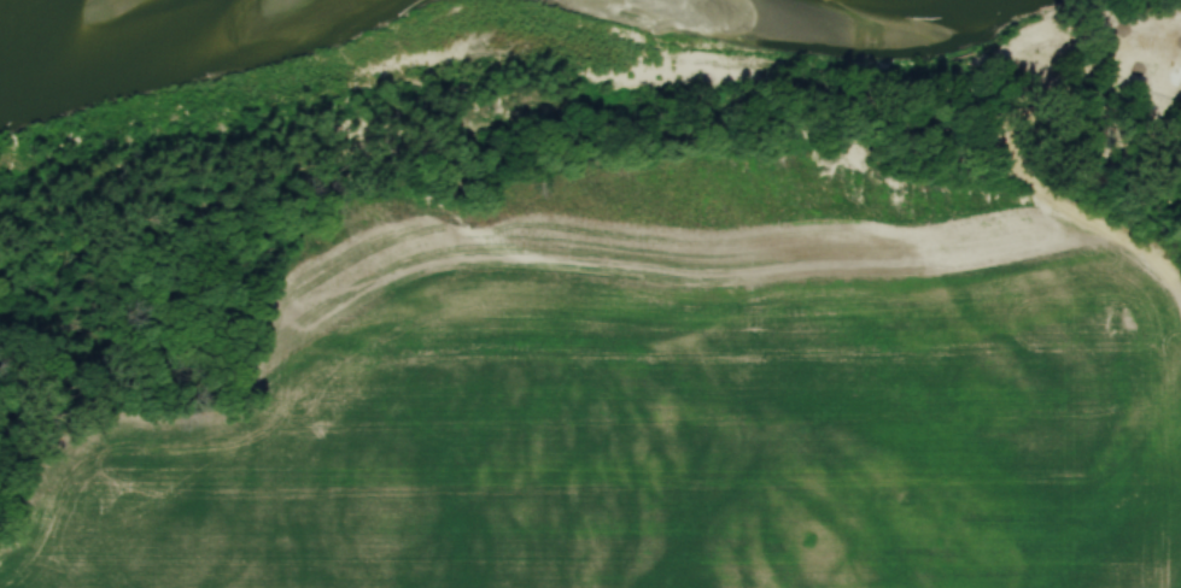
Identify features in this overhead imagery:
river: (2, 1)
building: (1170, 65)

